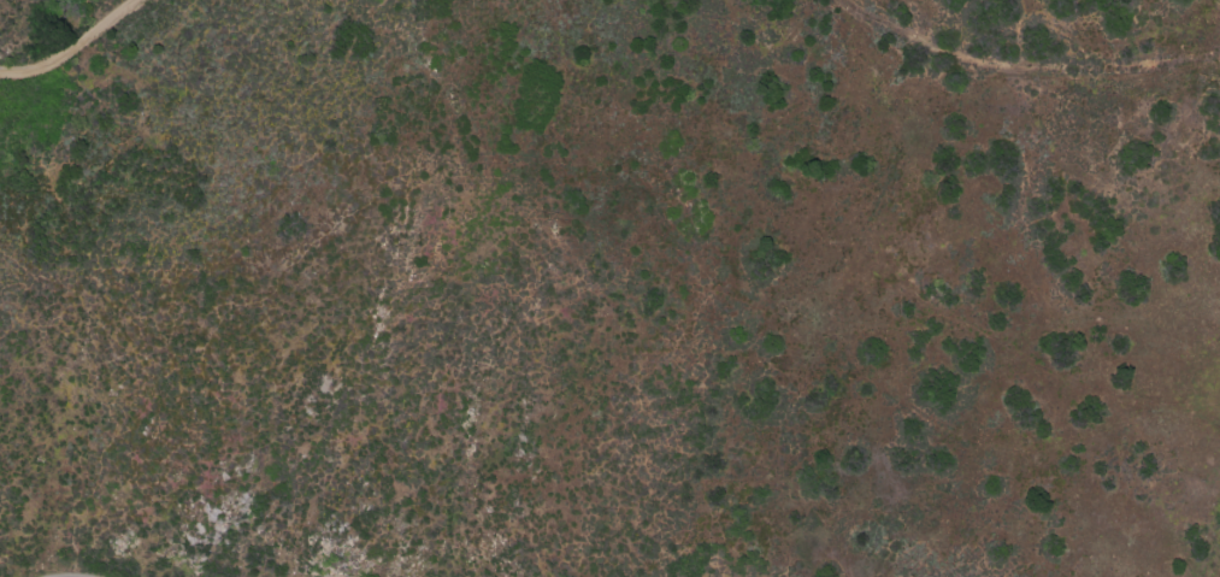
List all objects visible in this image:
road: (75, 42)

